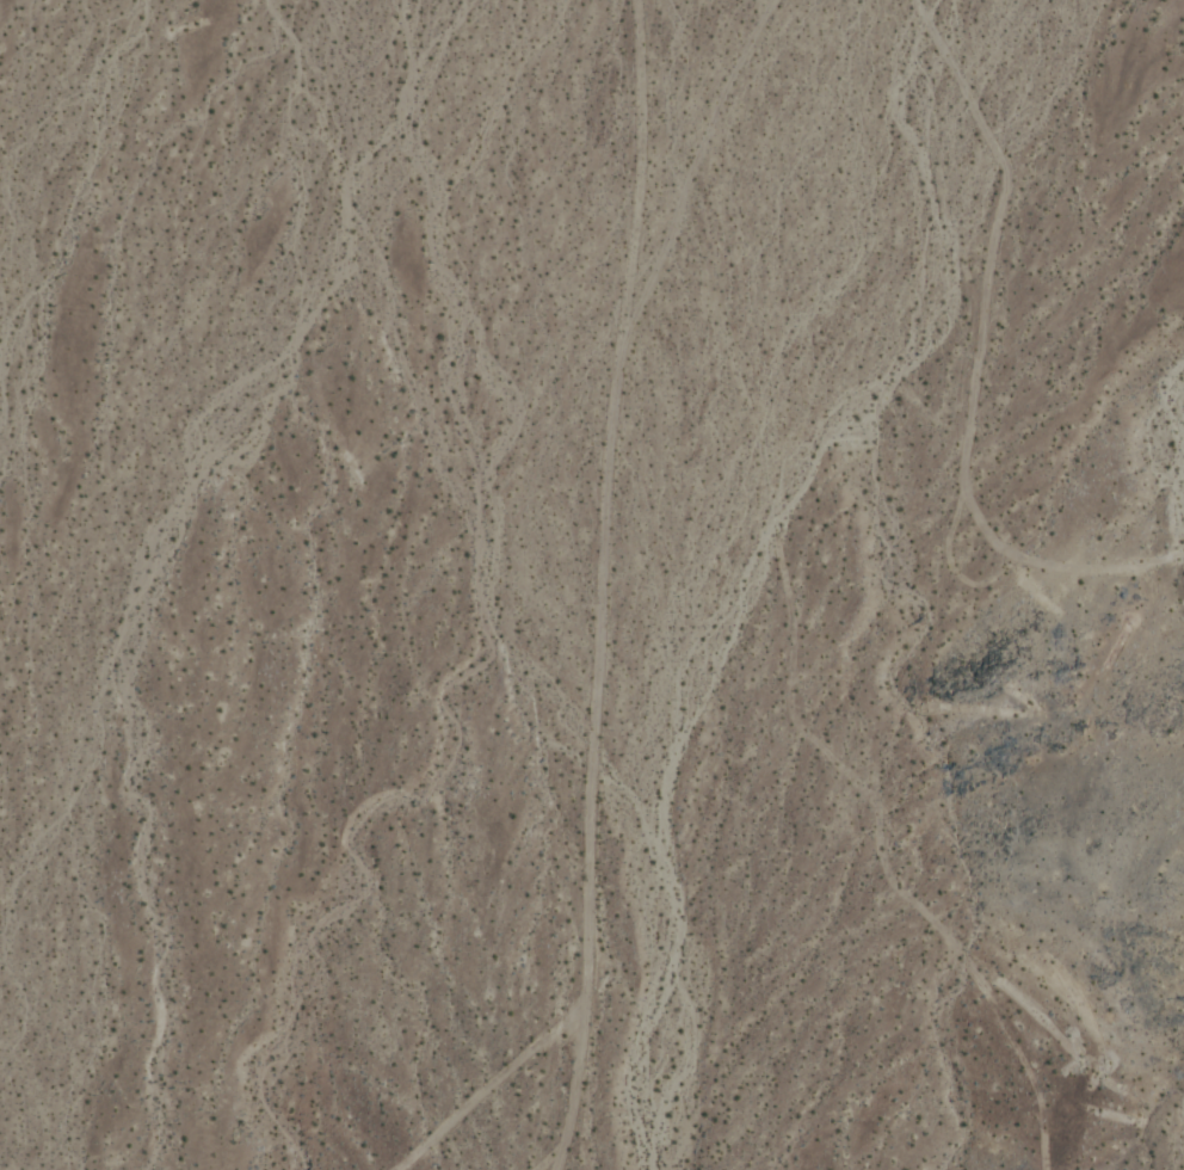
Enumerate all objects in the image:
road: (692, 170)
road: (981, 361)
road: (608, 585)
road: (495, 1089)

